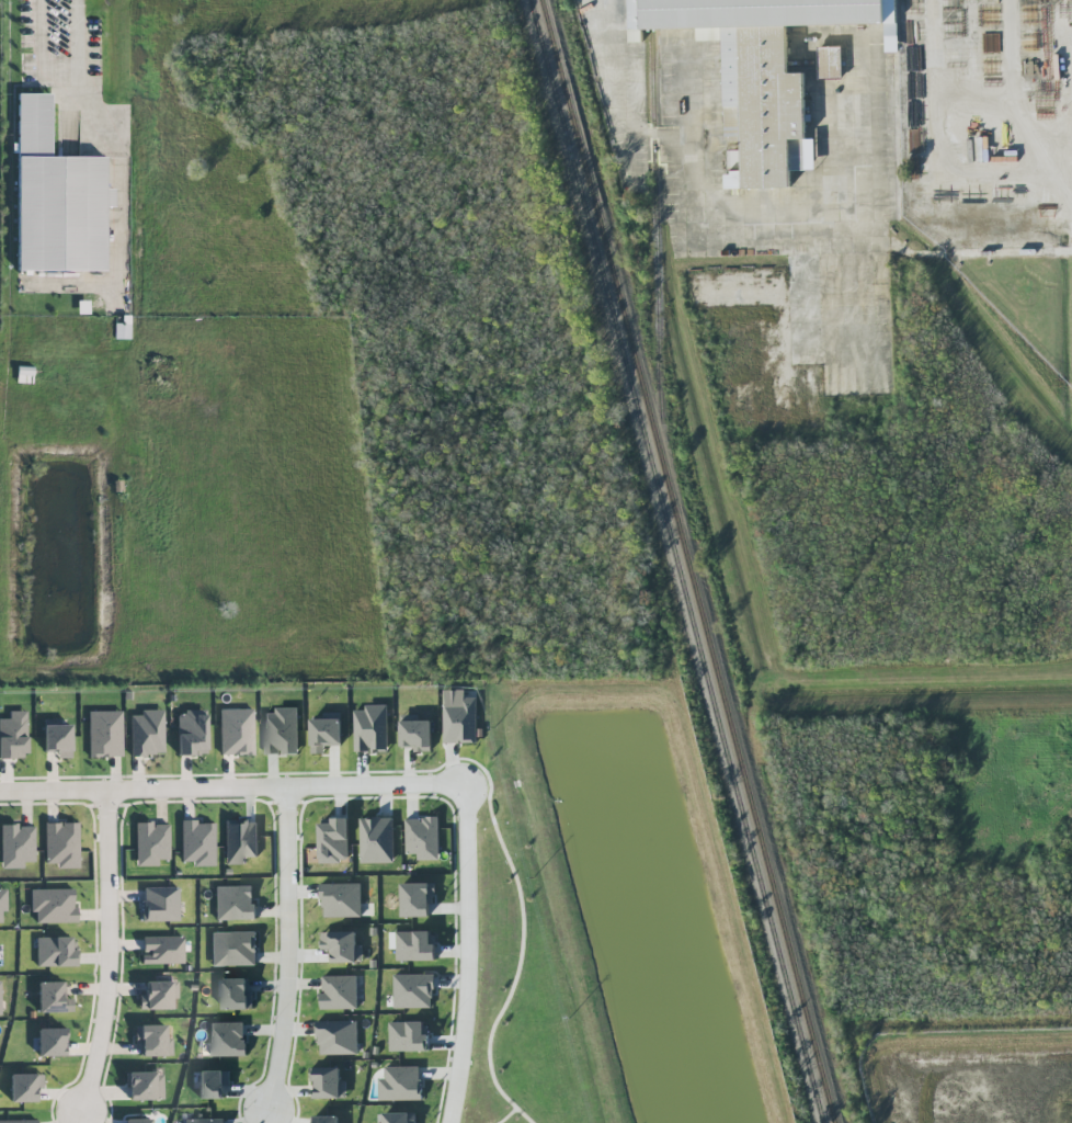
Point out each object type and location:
road: (42, 43)
road: (76, 43)
building: (830, 63)
building: (764, 71)
road: (59, 86)
road: (1011, 100)
road: (1068, 110)
road: (1040, 128)
road: (938, 146)
road: (115, 194)
building: (56, 198)
railway: (657, 212)
road: (67, 285)
building: (121, 331)
railway: (689, 561)
building: (460, 717)
building: (372, 729)
building: (236, 731)
building: (282, 731)
building: (147, 733)
building: (192, 733)
building: (104, 734)
building: (326, 734)
building: (13, 736)
building: (417, 736)
building: (57, 740)
road: (455, 764)
road: (232, 789)
building: (423, 838)
building: (240, 841)
building: (334, 841)
building: (377, 841)
building: (197, 842)
building: (151, 843)
building: (61, 844)
building: (16, 846)
building: (341, 900)
building: (418, 900)
building: (2, 903)
building: (235, 903)
building: (160, 904)
building: (53, 905)
road: (524, 934)
building: (342, 946)
building: (415, 946)
building: (233, 949)
building: (162, 950)
road: (288, 951)
building: (55, 952)
road: (107, 954)
road: (468, 954)
building: (414, 991)
building: (340, 992)
building: (235, 994)
building: (158, 995)
building: (53, 998)
building: (0, 1000)
building: (409, 1036)
building: (338, 1037)
building: (227, 1040)
building: (152, 1041)
building: (52, 1042)
building: (329, 1084)
building: (401, 1084)
building: (145, 1085)
building: (213, 1085)
building: (24, 1087)
road: (509, 1115)
road: (265, 1118)
building: (399, 1118)
road: (78, 1119)
building: (328, 1120)
building: (137, 1121)
building: (205, 1121)
building: (19, 1122)

